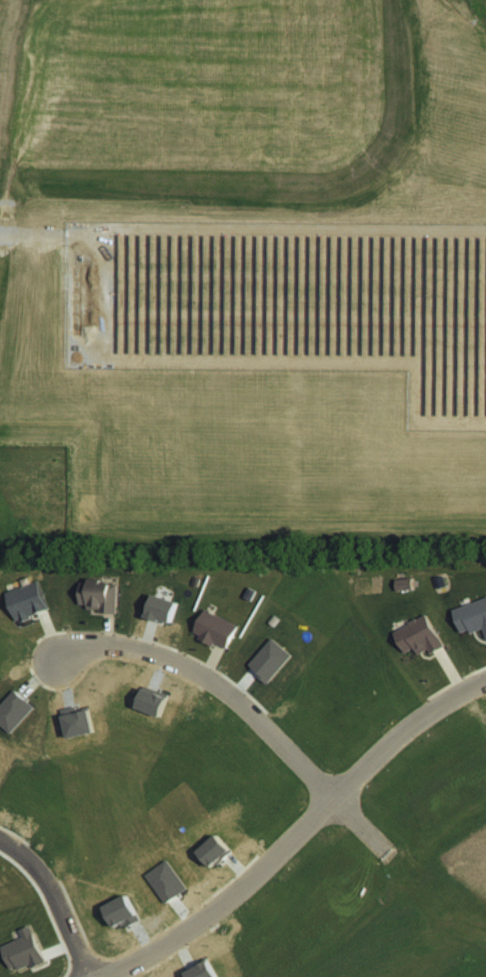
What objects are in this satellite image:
building: (100, 595)
building: (29, 600)
building: (164, 608)
building: (472, 616)
building: (216, 629)
building: (421, 635)
building: (271, 660)
road: (239, 703)
building: (14, 711)
road: (297, 830)
building: (216, 851)
building: (167, 881)
road: (52, 900)
building: (24, 951)
building: (204, 971)

